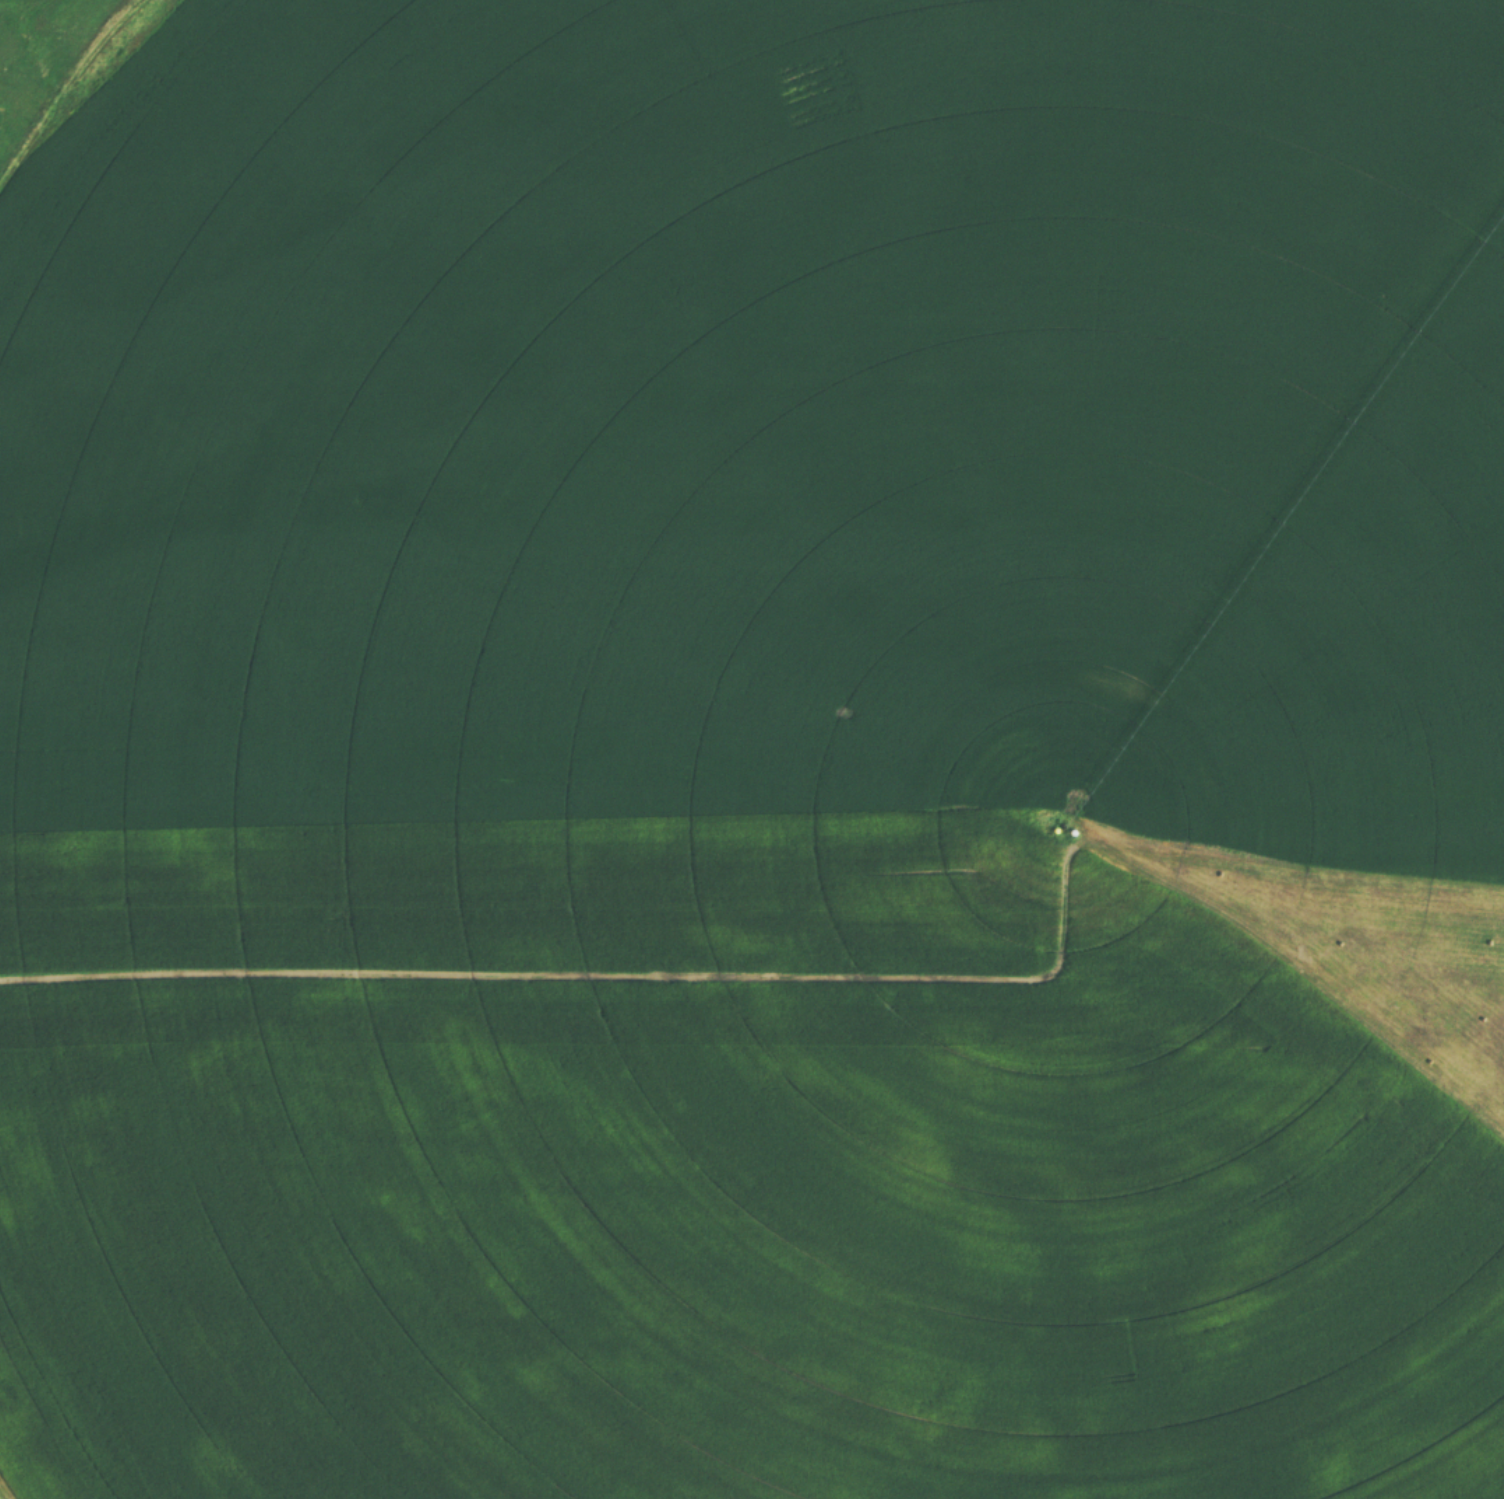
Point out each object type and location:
building: (1475, 541)
building: (1371, 574)
building: (804, 1041)

